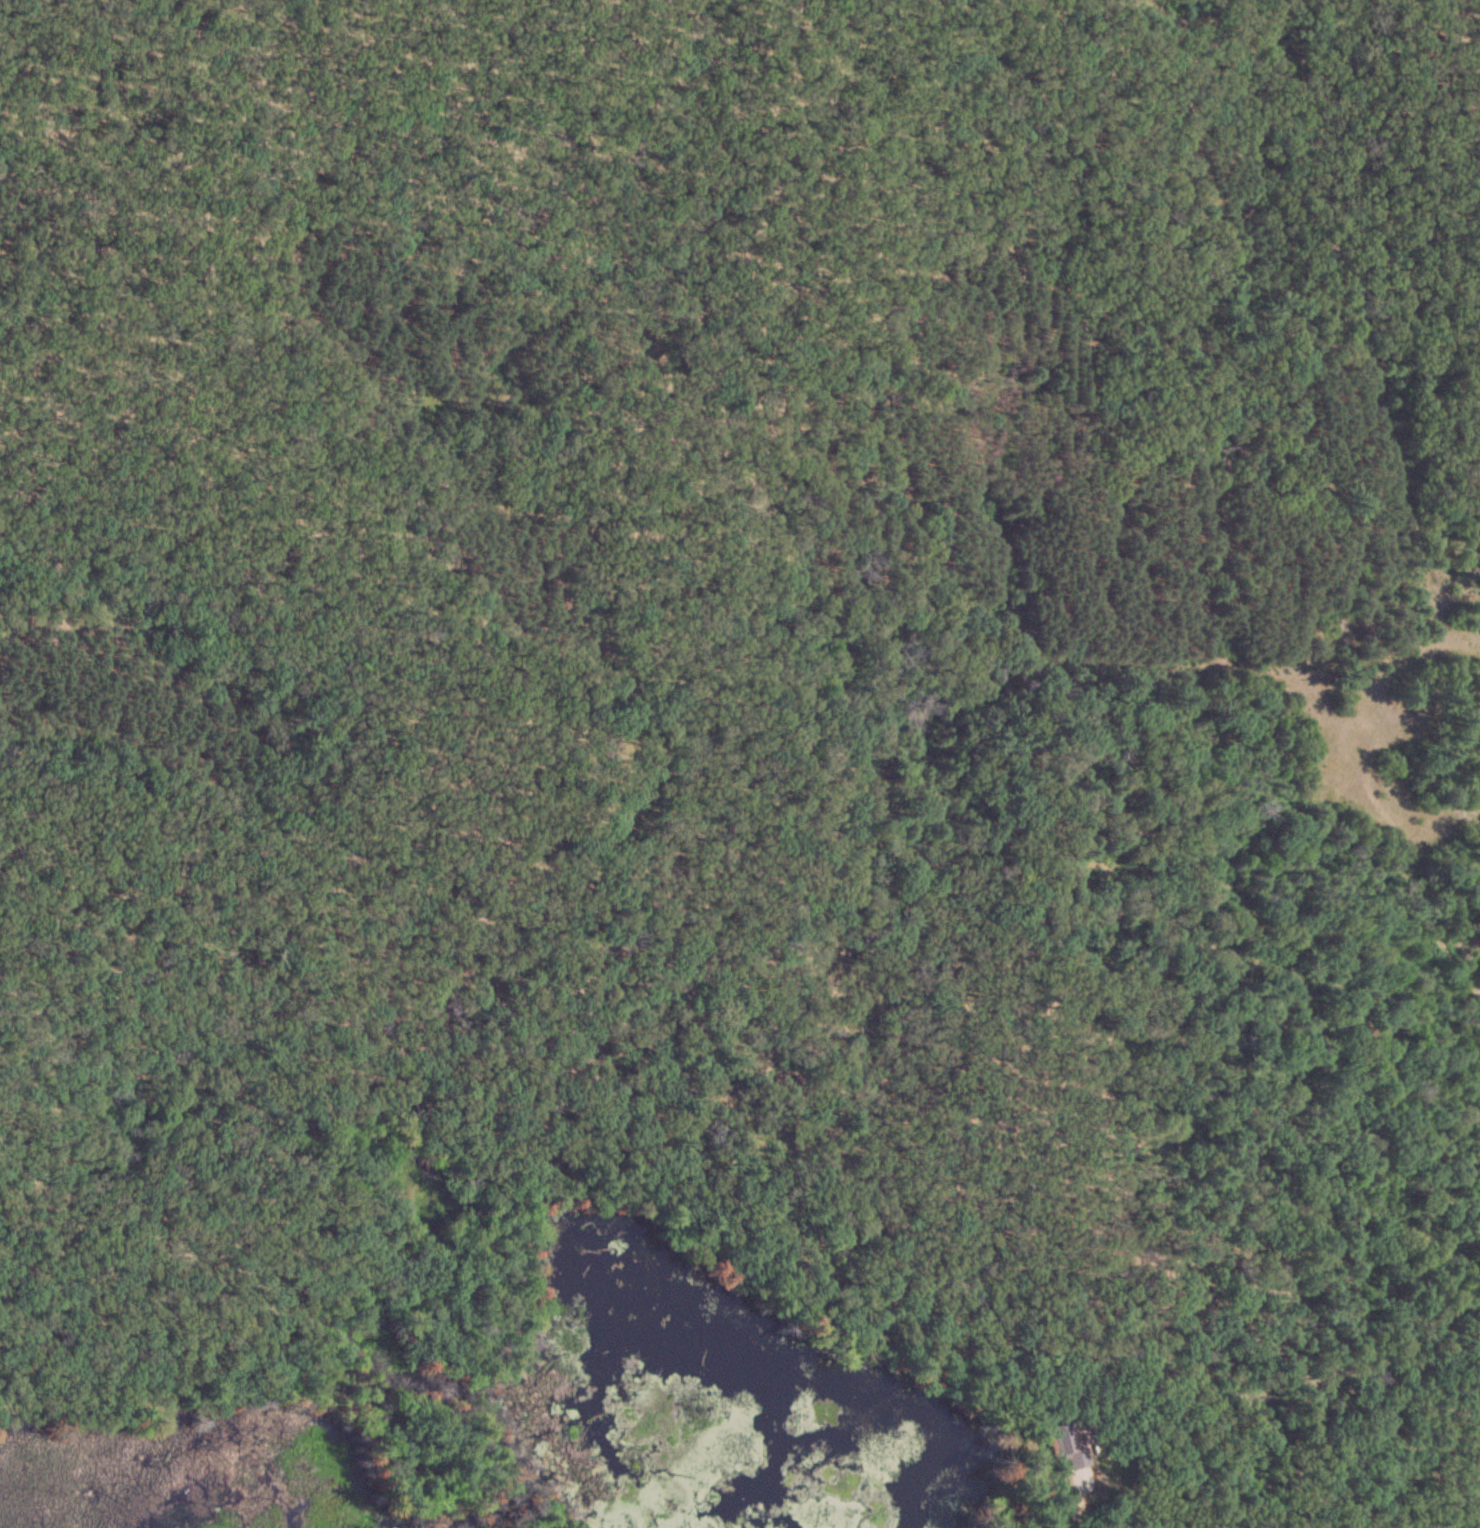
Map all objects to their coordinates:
building: (1063, 1446)
road: (1072, 1506)

